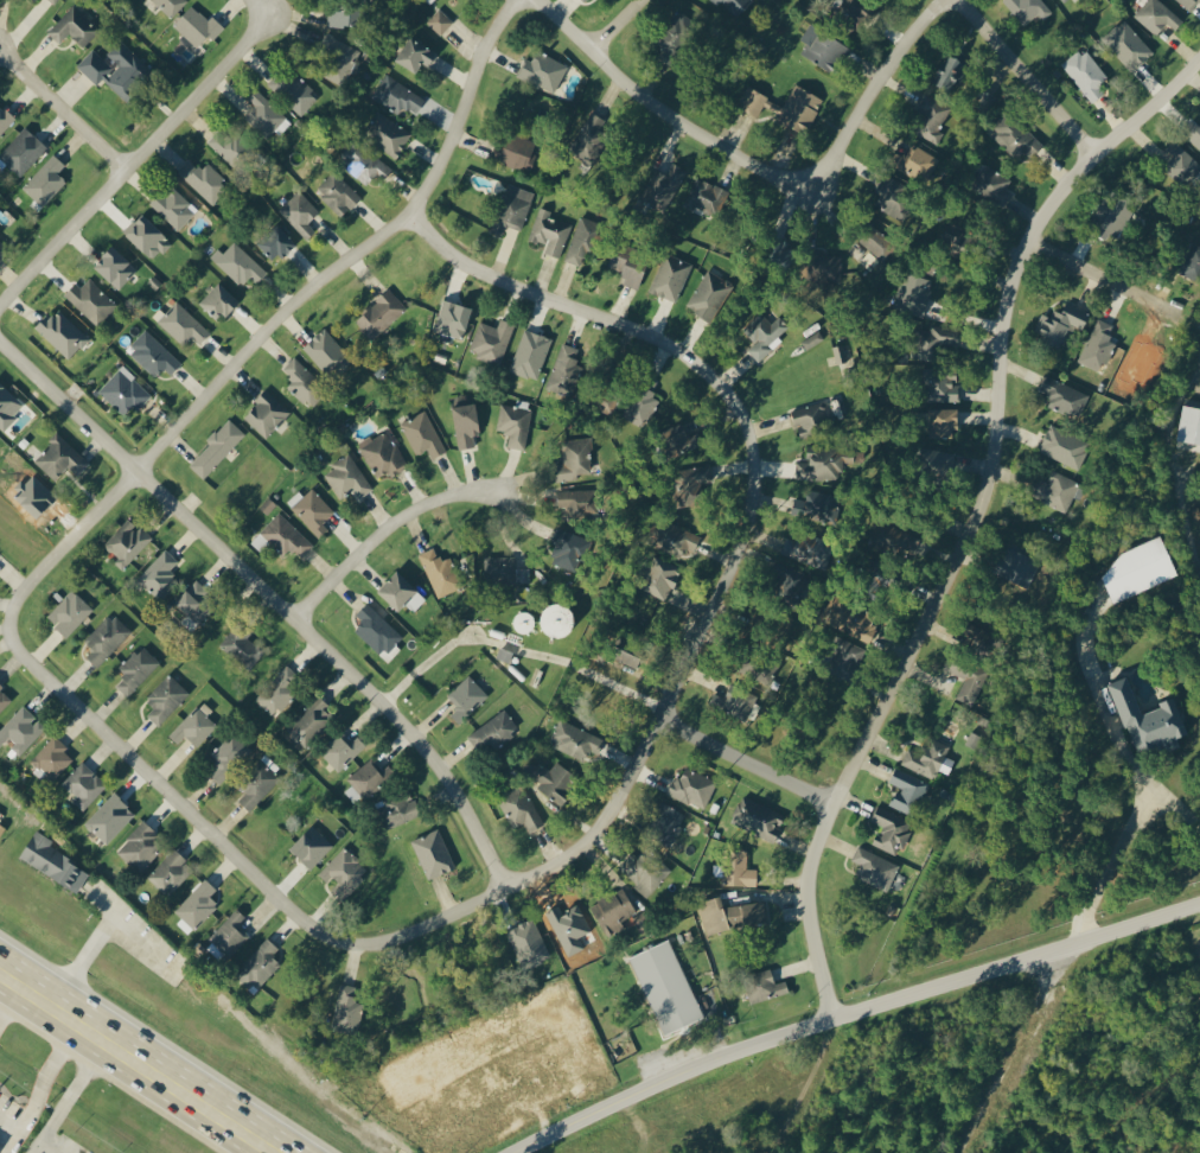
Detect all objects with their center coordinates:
building: (36, 0)
building: (52, 0)
building: (583, 0)
building: (1062, 0)
building: (1189, 2)
road: (268, 5)
building: (734, 5)
building: (170, 6)
building: (1028, 8)
building: (855, 11)
building: (345, 14)
building: (1156, 15)
building: (439, 21)
road: (617, 25)
building: (74, 26)
building: (197, 26)
building: (672, 37)
building: (1128, 45)
building: (822, 46)
building: (415, 53)
building: (337, 58)
building: (116, 69)
building: (543, 70)
building: (947, 71)
building: (1086, 74)
road: (1028, 75)
building: (293, 91)
building: (397, 95)
building: (751, 100)
road: (64, 107)
building: (799, 107)
building: (263, 114)
building: (932, 117)
building: (5, 119)
building: (387, 132)
building: (1193, 133)
building: (587, 134)
building: (1016, 135)
building: (229, 144)
building: (23, 151)
building: (517, 151)
road: (136, 158)
road: (760, 161)
building: (1182, 161)
building: (919, 163)
building: (364, 164)
building: (204, 179)
building: (45, 180)
building: (992, 184)
building: (337, 193)
building: (891, 195)
building: (706, 197)
building: (173, 208)
building: (512, 209)
building: (300, 214)
building: (549, 231)
building: (147, 236)
building: (582, 240)
building: (276, 241)
building: (877, 242)
building: (959, 243)
building: (4, 250)
road: (353, 251)
building: (869, 260)
building: (1192, 262)
building: (238, 263)
building: (628, 263)
building: (825, 266)
road: (1092, 266)
building: (115, 267)
building: (670, 276)
building: (913, 293)
building: (709, 294)
building: (90, 300)
building: (218, 301)
building: (379, 313)
building: (452, 318)
building: (1060, 323)
building: (183, 324)
building: (62, 333)
building: (765, 333)
building: (491, 339)
building: (812, 339)
building: (936, 340)
building: (1096, 346)
building: (327, 353)
building: (530, 353)
building: (840, 353)
building: (153, 355)
building: (566, 371)
building: (304, 383)
building: (943, 386)
building: (125, 391)
building: (1064, 396)
building: (607, 401)
building: (642, 406)
building: (6, 407)
building: (266, 414)
building: (810, 418)
building: (943, 422)
building: (466, 423)
building: (513, 425)
building: (1189, 425)
building: (422, 434)
building: (687, 441)
building: (1064, 446)
building: (216, 448)
building: (382, 454)
building: (60, 458)
building: (574, 459)
building: (936, 460)
building: (821, 463)
building: (347, 478)
building: (692, 484)
building: (1055, 490)
building: (576, 503)
building: (817, 505)
building: (311, 510)
road: (976, 518)
road: (384, 530)
building: (286, 536)
building: (675, 539)
building: (894, 539)
building: (127, 542)
building: (568, 547)
building: (805, 548)
building: (1016, 565)
building: (1138, 569)
building: (504, 571)
building: (439, 573)
building: (160, 574)
building: (660, 576)
building: (787, 580)
building: (401, 593)
road: (270, 595)
building: (194, 601)
building: (69, 612)
building: (851, 617)
building: (376, 630)
building: (106, 639)
building: (240, 645)
building: (631, 652)
building: (844, 658)
building: (136, 670)
building: (966, 679)
building: (279, 690)
building: (733, 695)
building: (465, 697)
building: (4, 699)
building: (165, 699)
building: (1149, 721)
building: (309, 722)
building: (194, 726)
building: (21, 730)
building: (492, 731)
building: (574, 740)
building: (340, 750)
building: (226, 756)
building: (52, 757)
road: (749, 758)
building: (928, 759)
building: (368, 779)
building: (553, 779)
building: (257, 784)
building: (83, 785)
building: (692, 788)
building: (905, 791)
road: (1176, 803)
building: (519, 808)
building: (397, 809)
building: (109, 818)
building: (758, 818)
building: (664, 822)
building: (891, 830)
building: (140, 846)
building: (311, 847)
road: (1124, 852)
building: (433, 854)
road: (557, 855)
building: (52, 862)
building: (874, 867)
building: (644, 869)
building: (739, 869)
building: (344, 871)
building: (170, 872)
building: (196, 906)
building: (613, 911)
building: (732, 915)
building: (642, 921)
building: (230, 932)
building: (529, 943)
road: (85, 947)
road: (135, 947)
building: (257, 966)
building: (764, 986)
building: (666, 987)
road: (6, 996)
building: (346, 1009)
road: (849, 1012)
road: (1015, 1052)
road: (555, 1062)
road: (135, 1064)
road: (38, 1087)
road: (477, 1100)
road: (64, 1101)
road: (209, 1136)
road: (12, 1141)
building: (1, 1148)

